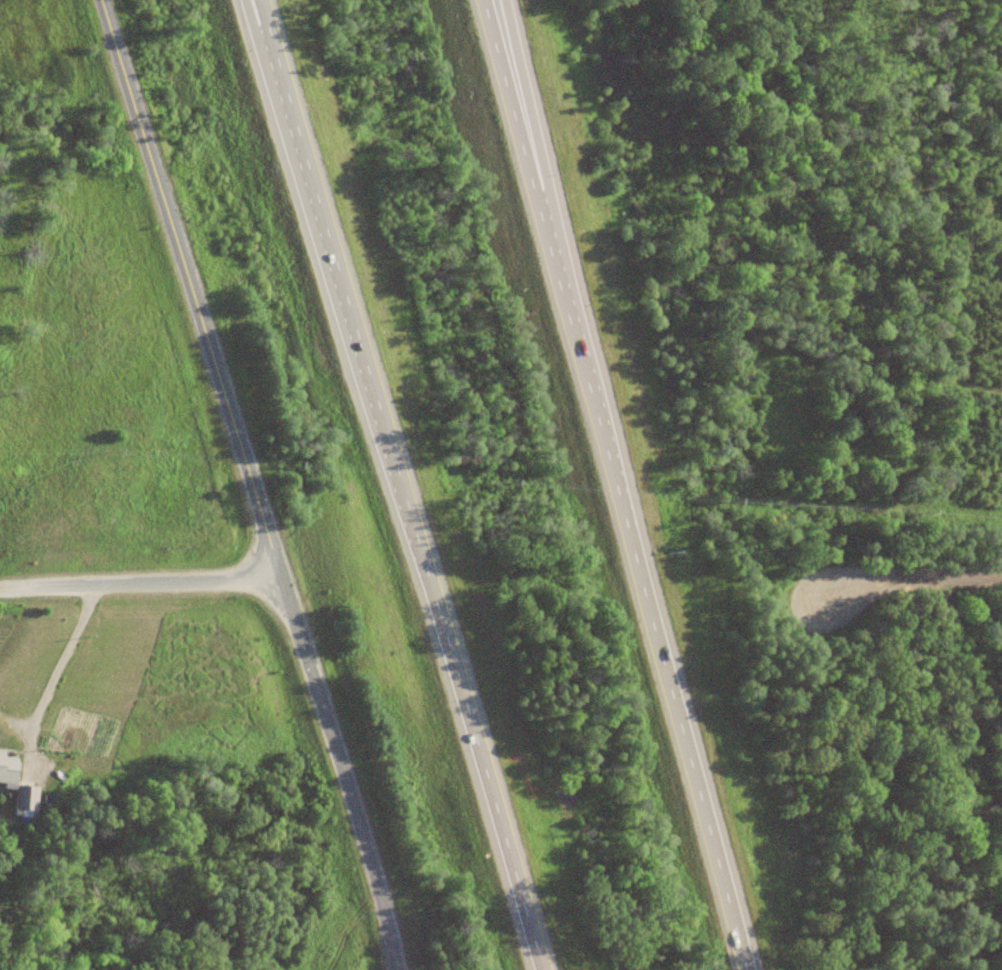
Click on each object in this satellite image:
road: (264, 34)
road: (538, 141)
road: (251, 482)
road: (396, 485)
road: (611, 485)
road: (146, 580)
road: (911, 580)
road: (7, 587)
road: (55, 673)
building: (8, 767)
building: (25, 797)

